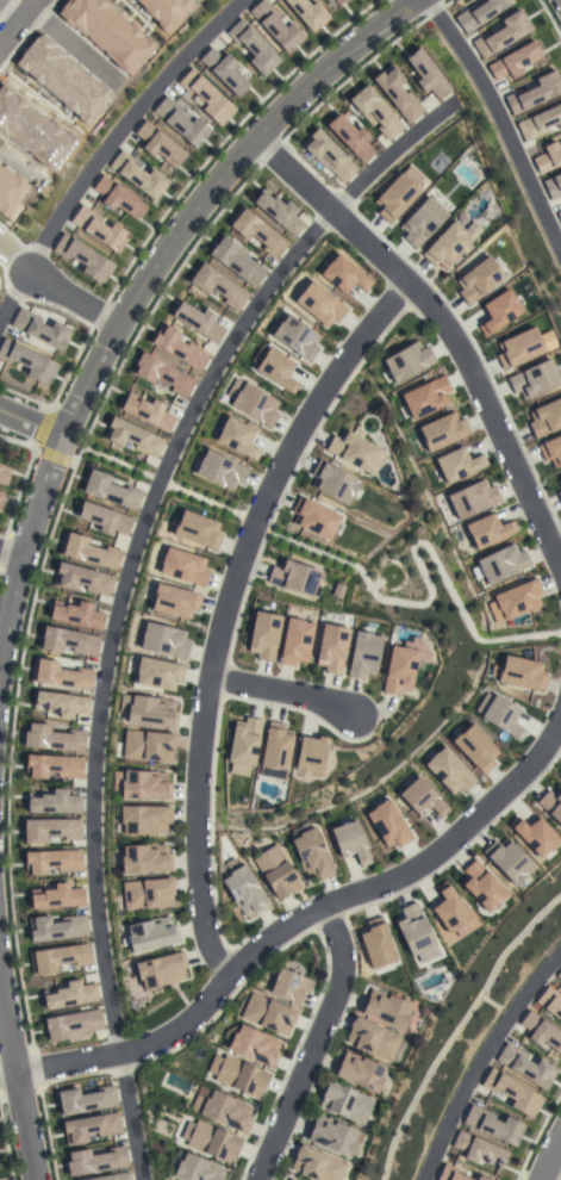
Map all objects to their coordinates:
building: (338, 1)
road: (443, 5)
road: (11, 8)
building: (479, 13)
road: (18, 24)
building: (275, 27)
building: (499, 35)
road: (69, 44)
building: (253, 48)
building: (513, 62)
building: (223, 72)
building: (426, 75)
building: (535, 93)
building: (398, 95)
building: (206, 97)
building: (375, 113)
road: (24, 117)
building: (180, 123)
building: (540, 124)
road: (499, 126)
building: (350, 138)
building: (158, 144)
road: (106, 148)
road: (392, 153)
building: (329, 157)
building: (548, 157)
road: (21, 167)
building: (138, 176)
building: (553, 185)
building: (10, 191)
building: (394, 197)
building: (117, 198)
building: (279, 212)
building: (559, 213)
building: (422, 222)
building: (98, 229)
building: (257, 232)
building: (445, 246)
building: (83, 259)
building: (237, 261)
building: (344, 274)
building: (478, 280)
building: (217, 286)
road: (58, 290)
road: (147, 290)
building: (319, 304)
building: (498, 311)
building: (198, 322)
road: (440, 324)
building: (39, 329)
building: (295, 337)
building: (180, 348)
building: (518, 348)
building: (27, 361)
building: (406, 361)
building: (276, 369)
building: (162, 374)
building: (534, 379)
building: (425, 397)
building: (251, 403)
building: (145, 411)
building: (546, 417)
road: (31, 422)
building: (442, 431)
building: (132, 437)
building: (237, 437)
road: (17, 442)
building: (550, 449)
building: (355, 452)
building: (457, 464)
building: (220, 470)
building: (4, 474)
building: (332, 482)
building: (560, 483)
building: (108, 491)
building: (559, 495)
building: (1, 496)
building: (473, 498)
building: (314, 517)
building: (104, 518)
building: (198, 529)
building: (487, 530)
road: (10, 552)
building: (88, 552)
building: (501, 563)
building: (183, 566)
building: (293, 577)
building: (83, 579)
building: (517, 598)
building: (174, 600)
road: (123, 601)
road: (229, 608)
building: (77, 615)
building: (263, 635)
building: (164, 640)
building: (68, 641)
building: (294, 641)
building: (331, 648)
building: (363, 654)
building: (398, 670)
building: (158, 673)
building: (519, 673)
building: (62, 675)
road: (281, 694)
building: (62, 703)
building: (148, 710)
building: (499, 714)
building: (52, 738)
building: (243, 741)
building: (148, 746)
building: (275, 746)
building: (475, 747)
building: (310, 754)
building: (52, 765)
building: (449, 771)
building: (142, 784)
building: (422, 797)
building: (55, 802)
building: (551, 803)
building: (144, 819)
building: (388, 824)
building: (50, 830)
building: (534, 836)
building: (350, 841)
building: (312, 855)
building: (145, 858)
building: (52, 861)
building: (507, 861)
building: (276, 872)
building: (481, 886)
building: (244, 892)
building: (147, 894)
building: (56, 896)
building: (449, 908)
road: (303, 921)
building: (57, 927)
building: (413, 930)
building: (150, 933)
building: (376, 943)
building: (57, 958)
building: (161, 969)
building: (559, 974)
building: (291, 987)
building: (70, 994)
building: (549, 1004)
building: (385, 1008)
building: (268, 1014)
building: (73, 1024)
building: (541, 1032)
building: (373, 1038)
road: (312, 1044)
building: (254, 1045)
road: (480, 1057)
building: (524, 1066)
building: (359, 1072)
road: (7, 1073)
building: (237, 1075)
road: (15, 1081)
building: (512, 1093)
building: (86, 1100)
building: (344, 1103)
building: (223, 1110)
road: (130, 1117)
building: (492, 1125)
building: (91, 1126)
building: (331, 1135)
building: (210, 1141)
building: (479, 1150)
road: (549, 1159)
building: (95, 1161)
building: (316, 1165)
building: (197, 1168)
road: (551, 1173)
building: (454, 1175)
building: (113, 1176)
building: (289, 1179)

